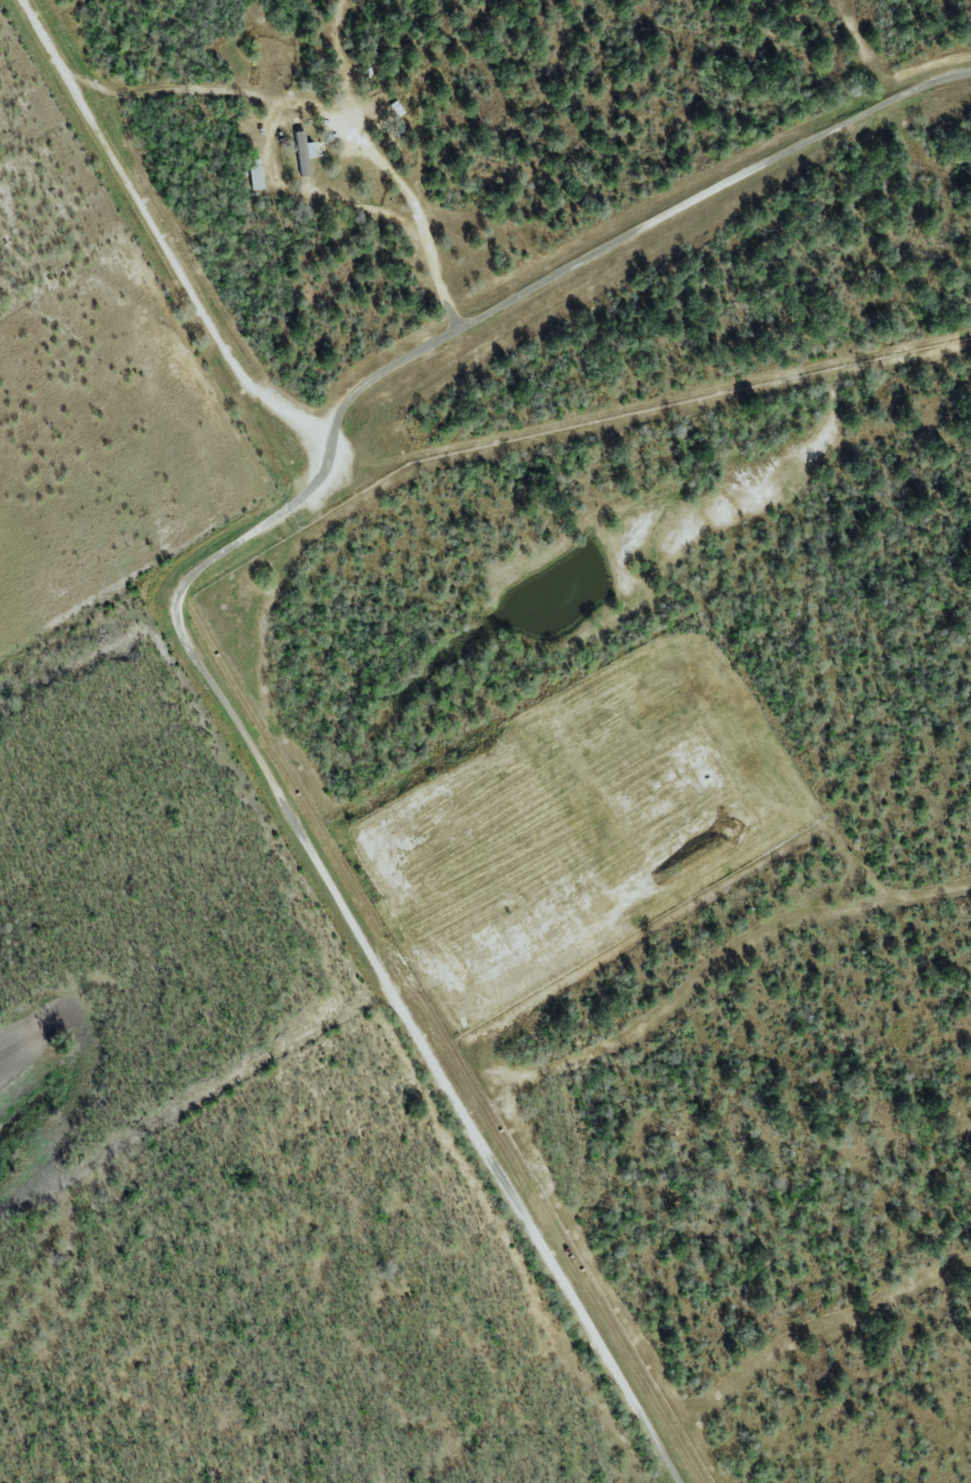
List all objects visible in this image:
road: (422, 217)
road: (629, 233)
road: (296, 427)
road: (549, 943)
road: (483, 1149)

